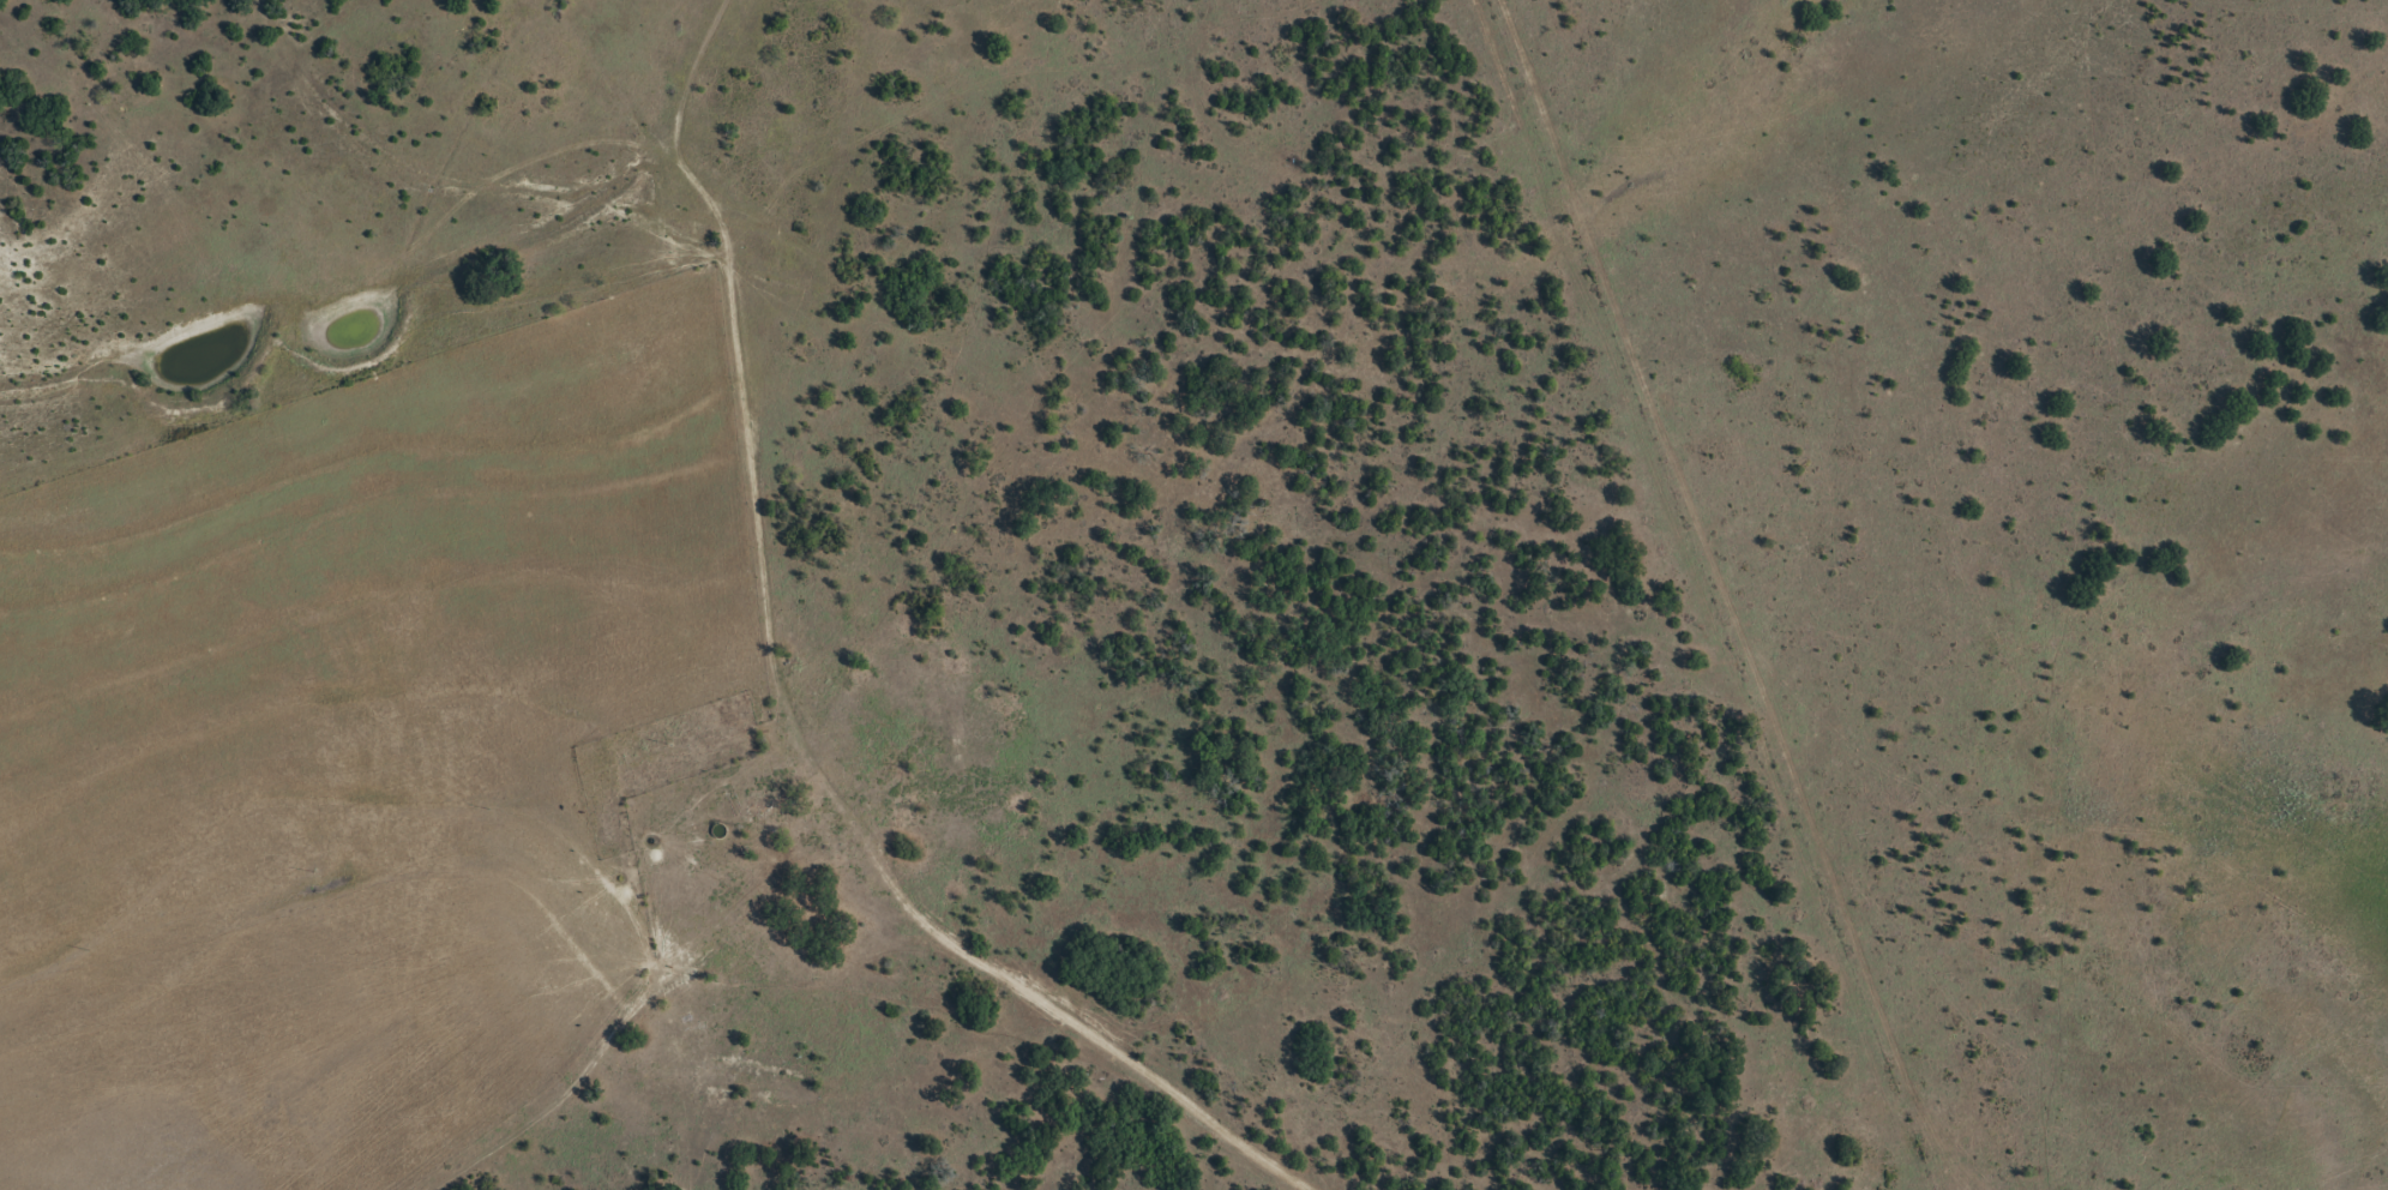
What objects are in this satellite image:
road: (762, 704)
road: (575, 1021)

